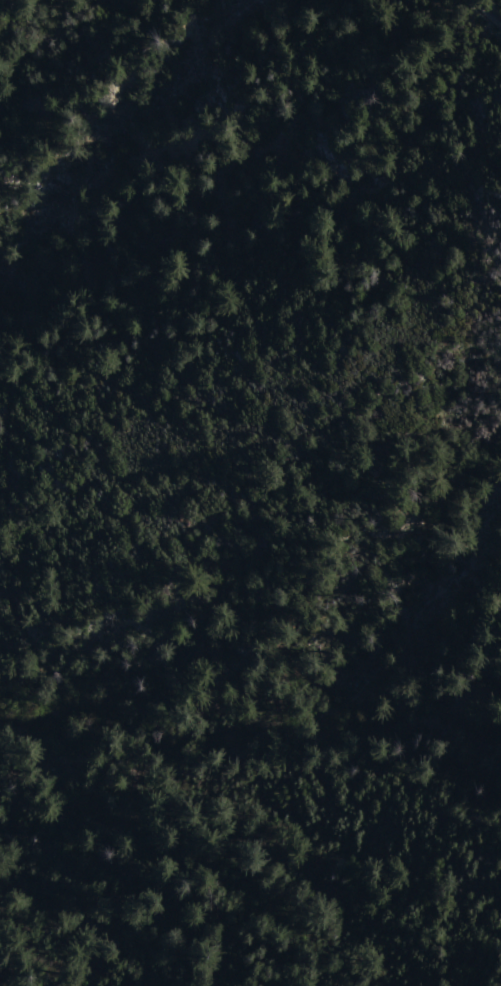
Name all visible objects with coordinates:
road: (485, 13)

